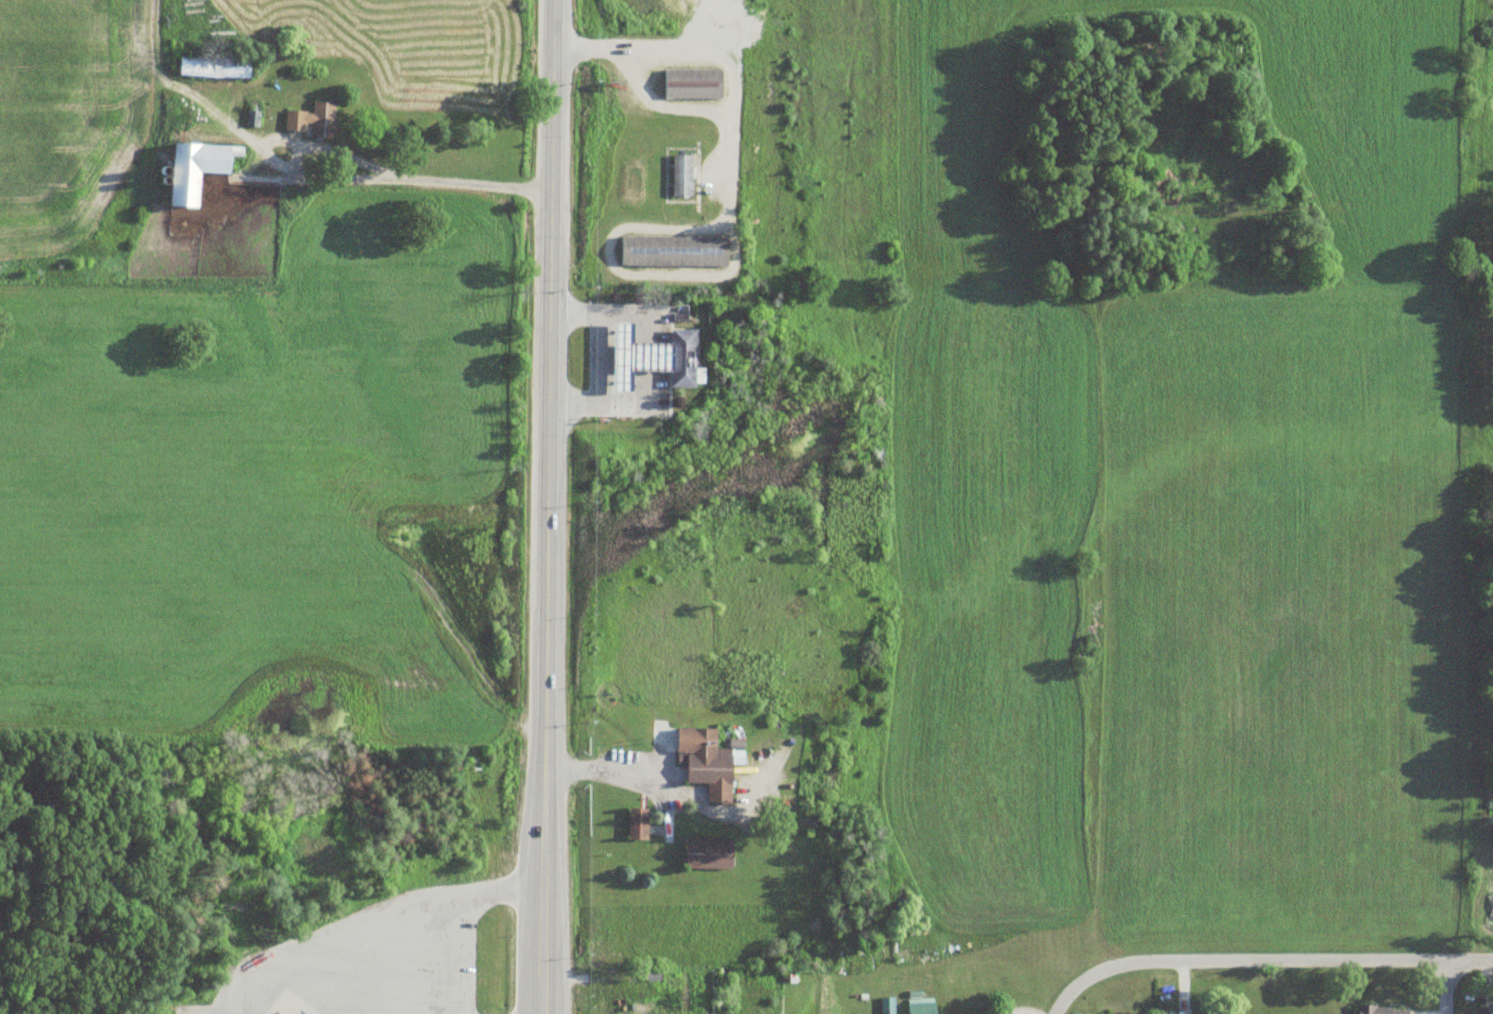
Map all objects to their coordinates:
road: (721, 52)
building: (212, 68)
building: (691, 84)
building: (310, 121)
building: (194, 170)
building: (680, 176)
building: (672, 252)
building: (633, 355)
road: (600, 356)
building: (680, 356)
road: (547, 507)
building: (703, 764)
building: (635, 825)
building: (706, 855)
road: (1298, 957)
road: (1074, 985)
road: (1448, 986)
building: (919, 1008)
building: (1378, 1010)
building: (296, 1011)
building: (1484, 1011)

